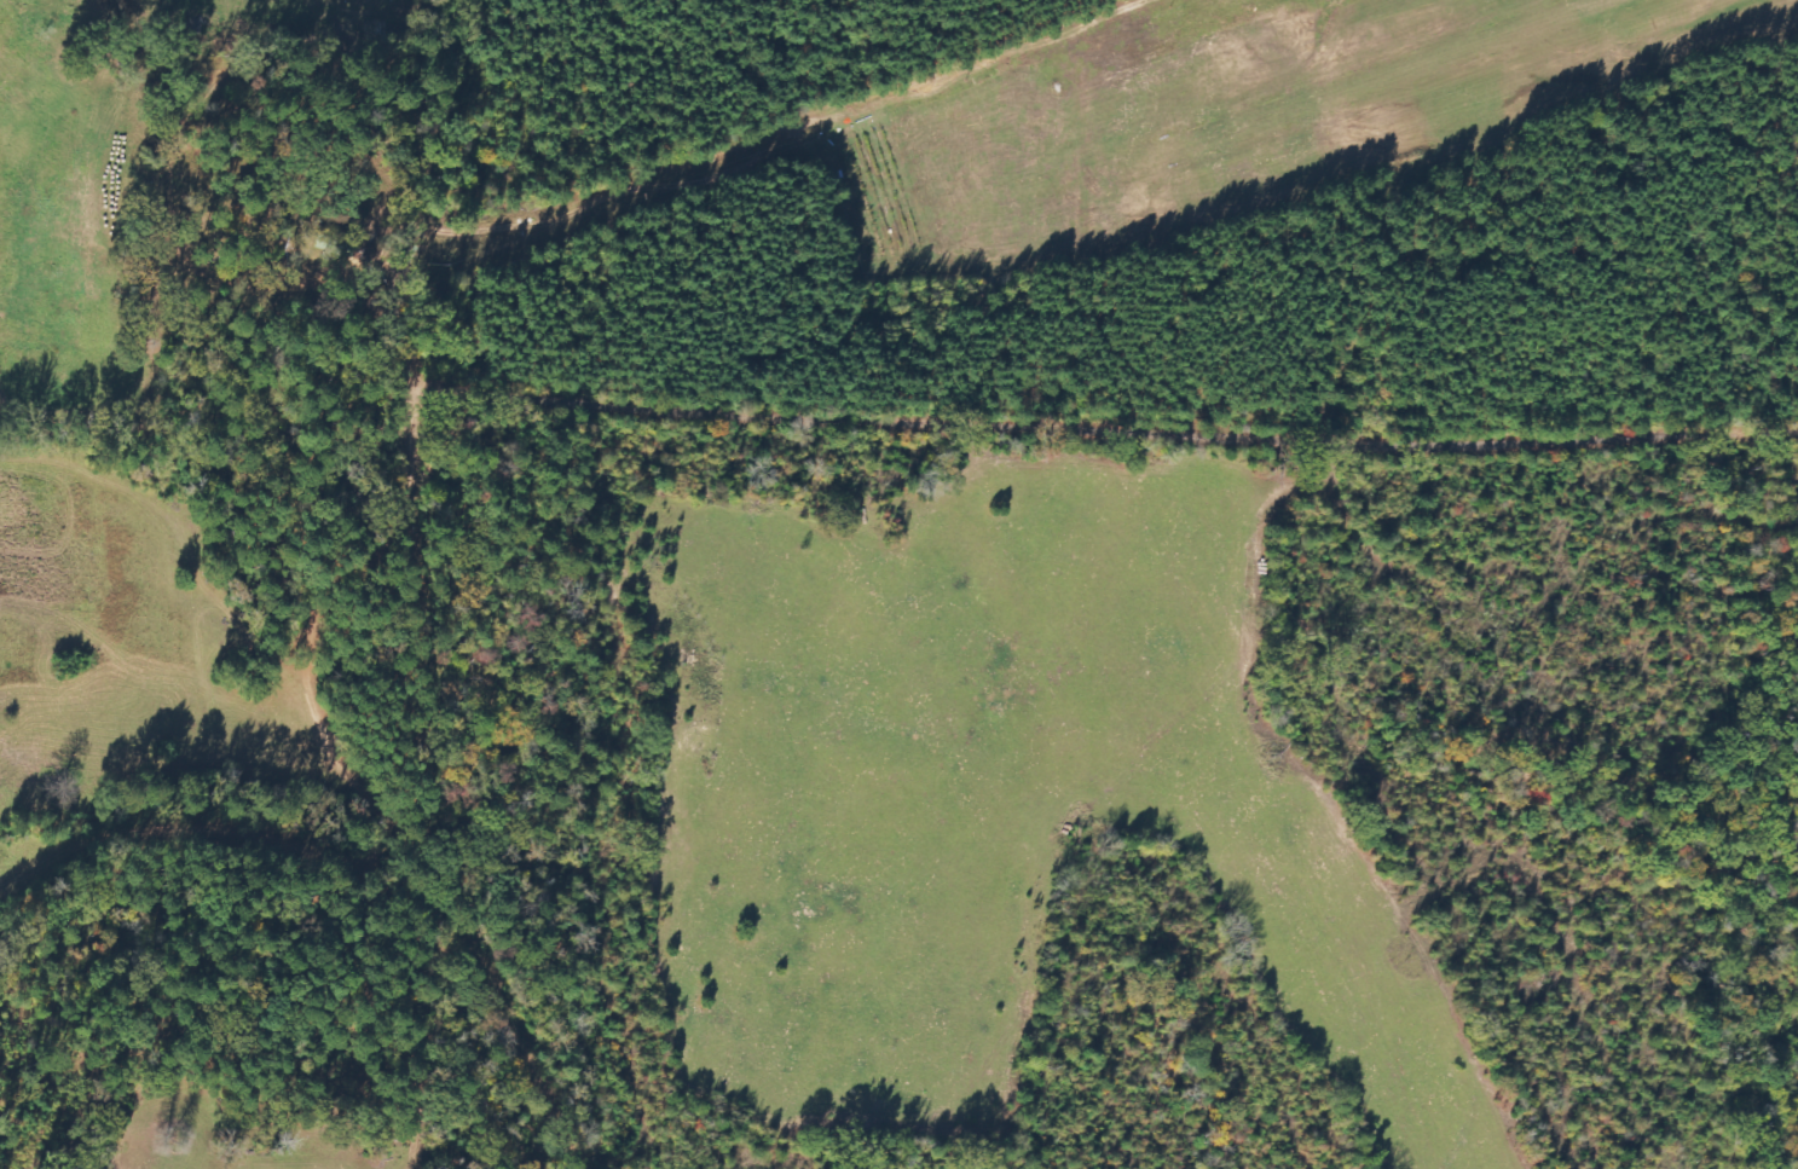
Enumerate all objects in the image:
airport runway: (1393, 89)
road: (1112, 434)

